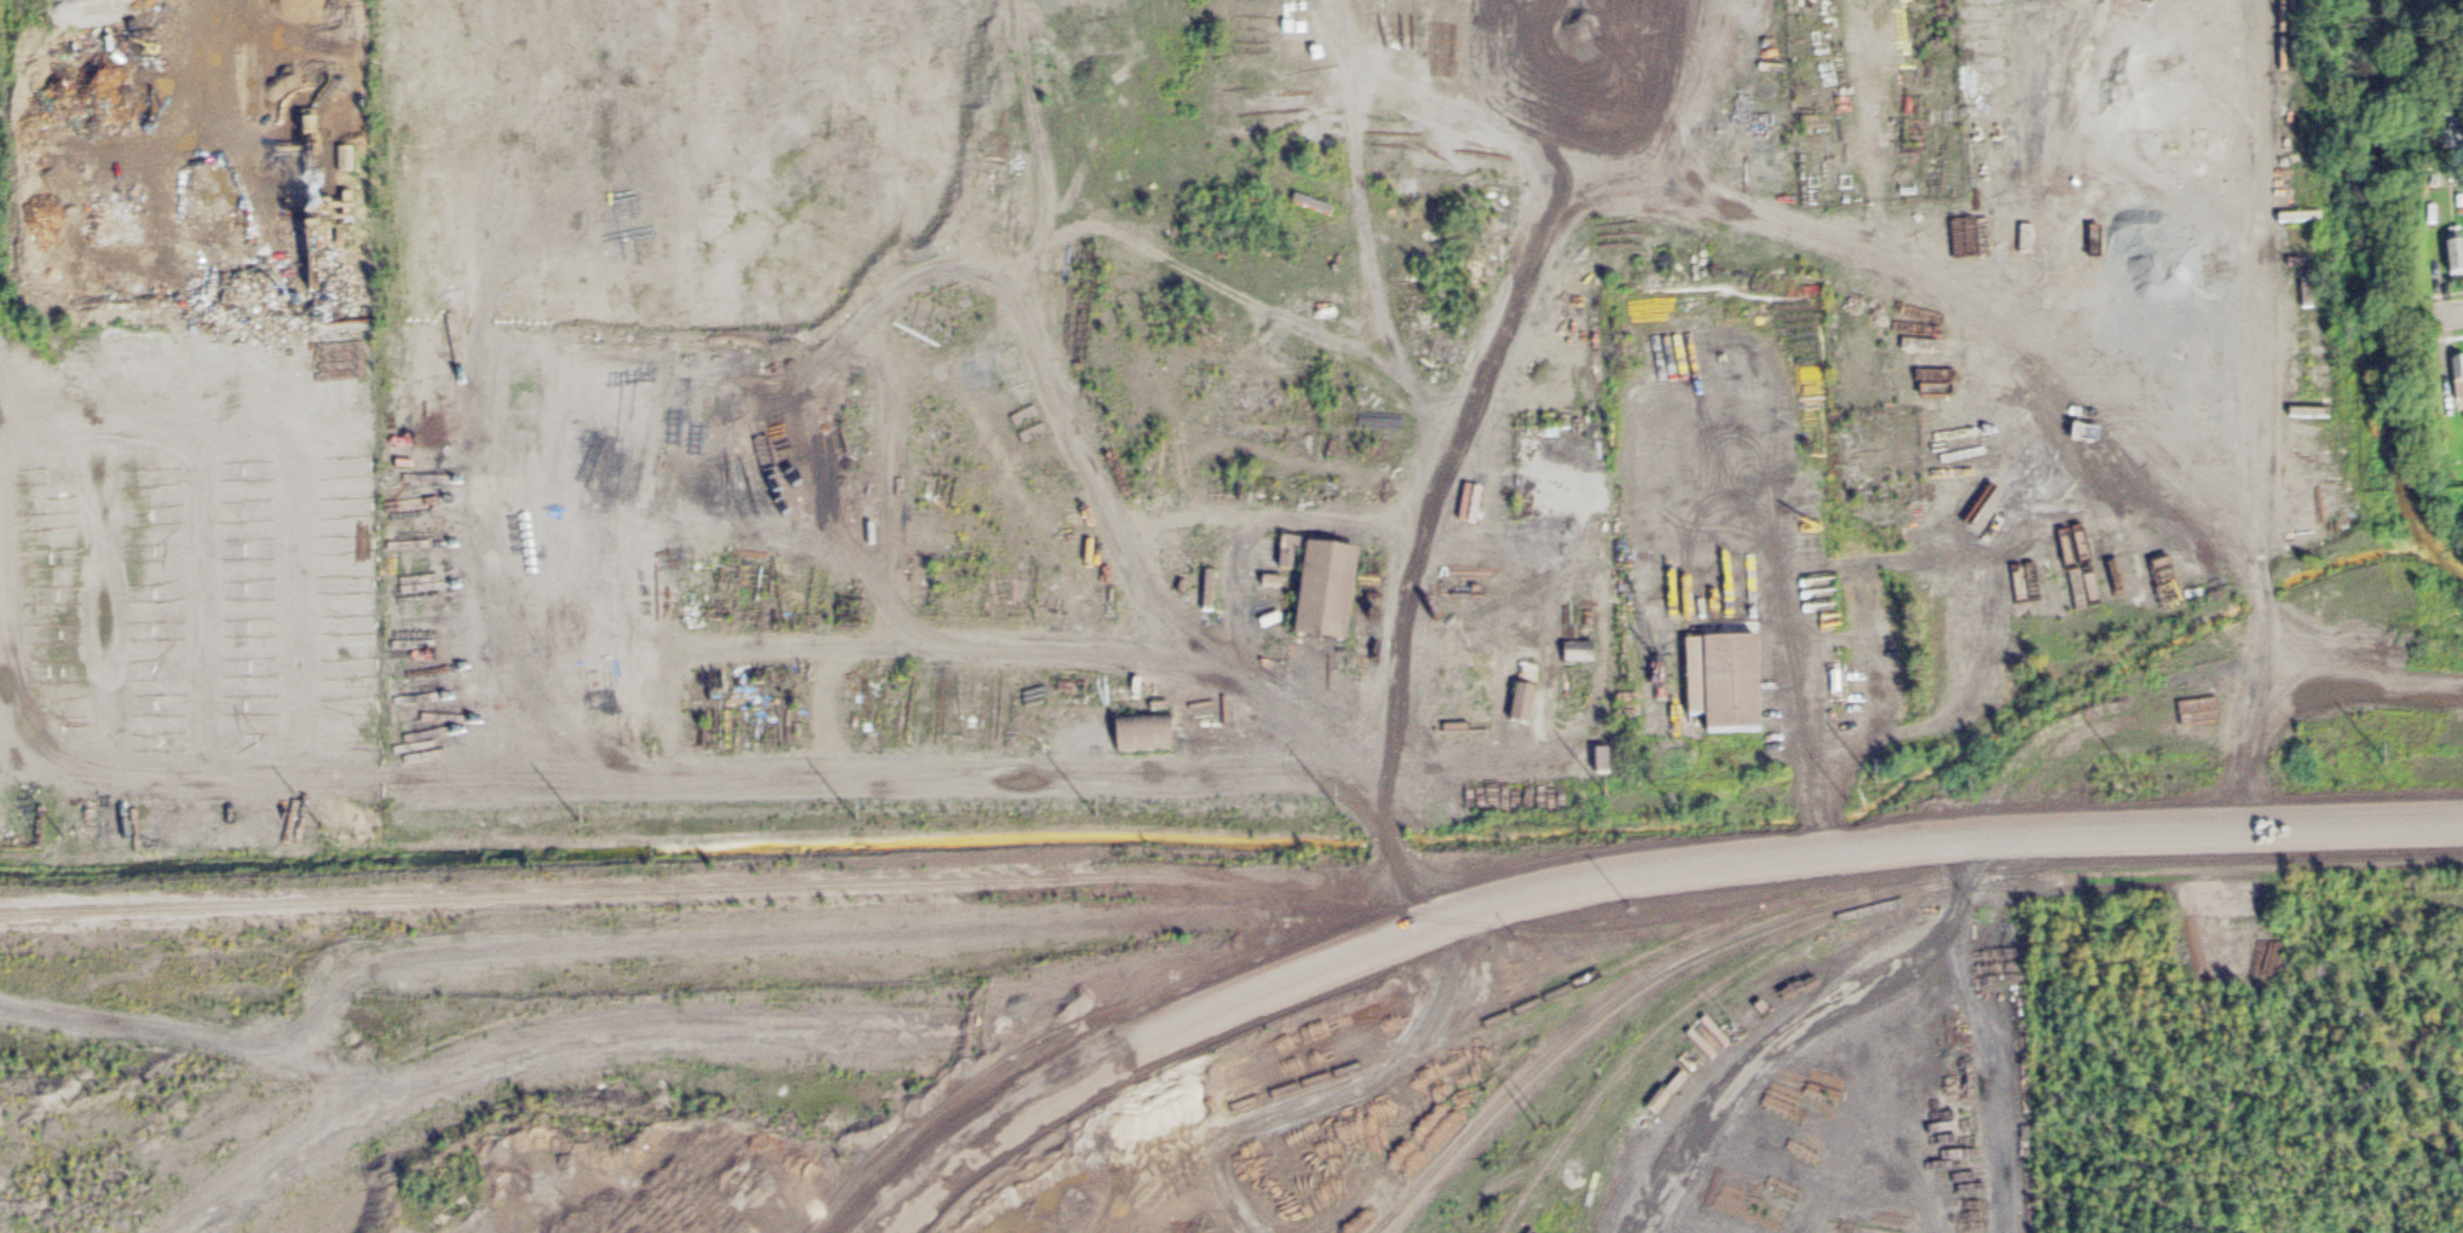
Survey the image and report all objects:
park: (2430, 13)

